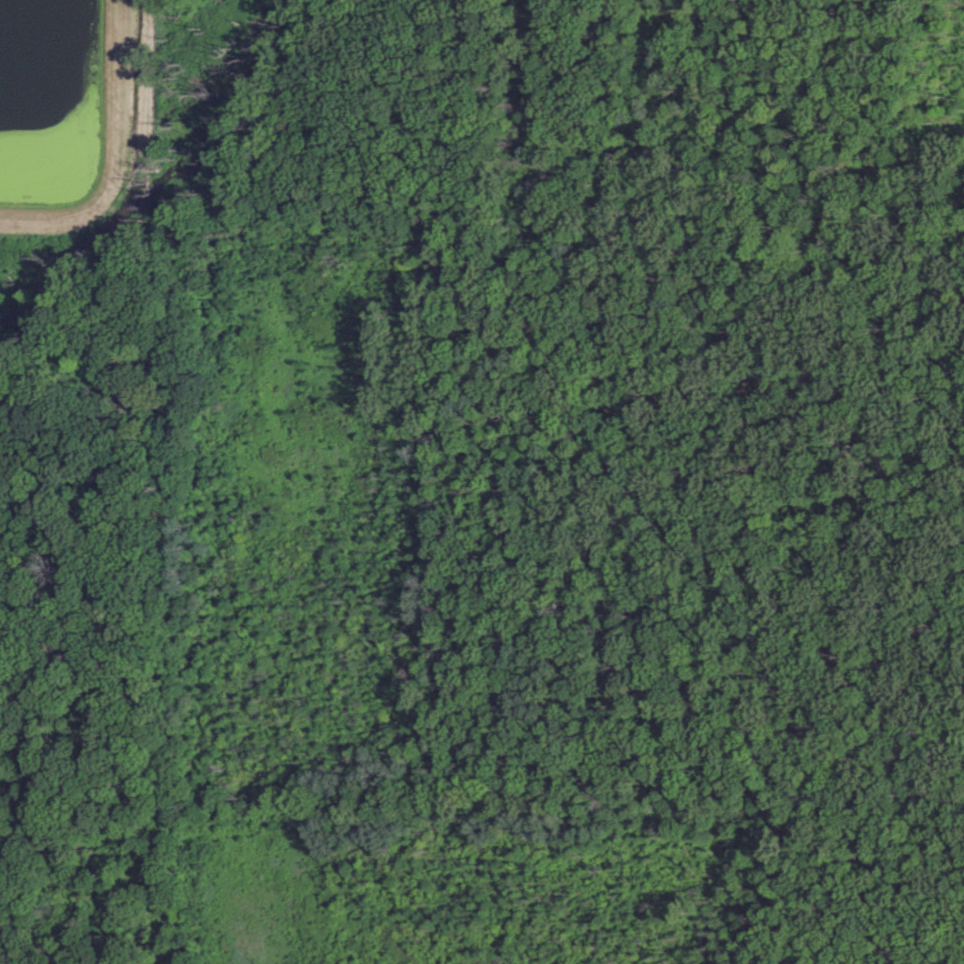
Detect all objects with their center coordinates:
wastewater plant: (71, 117)
road: (109, 152)

